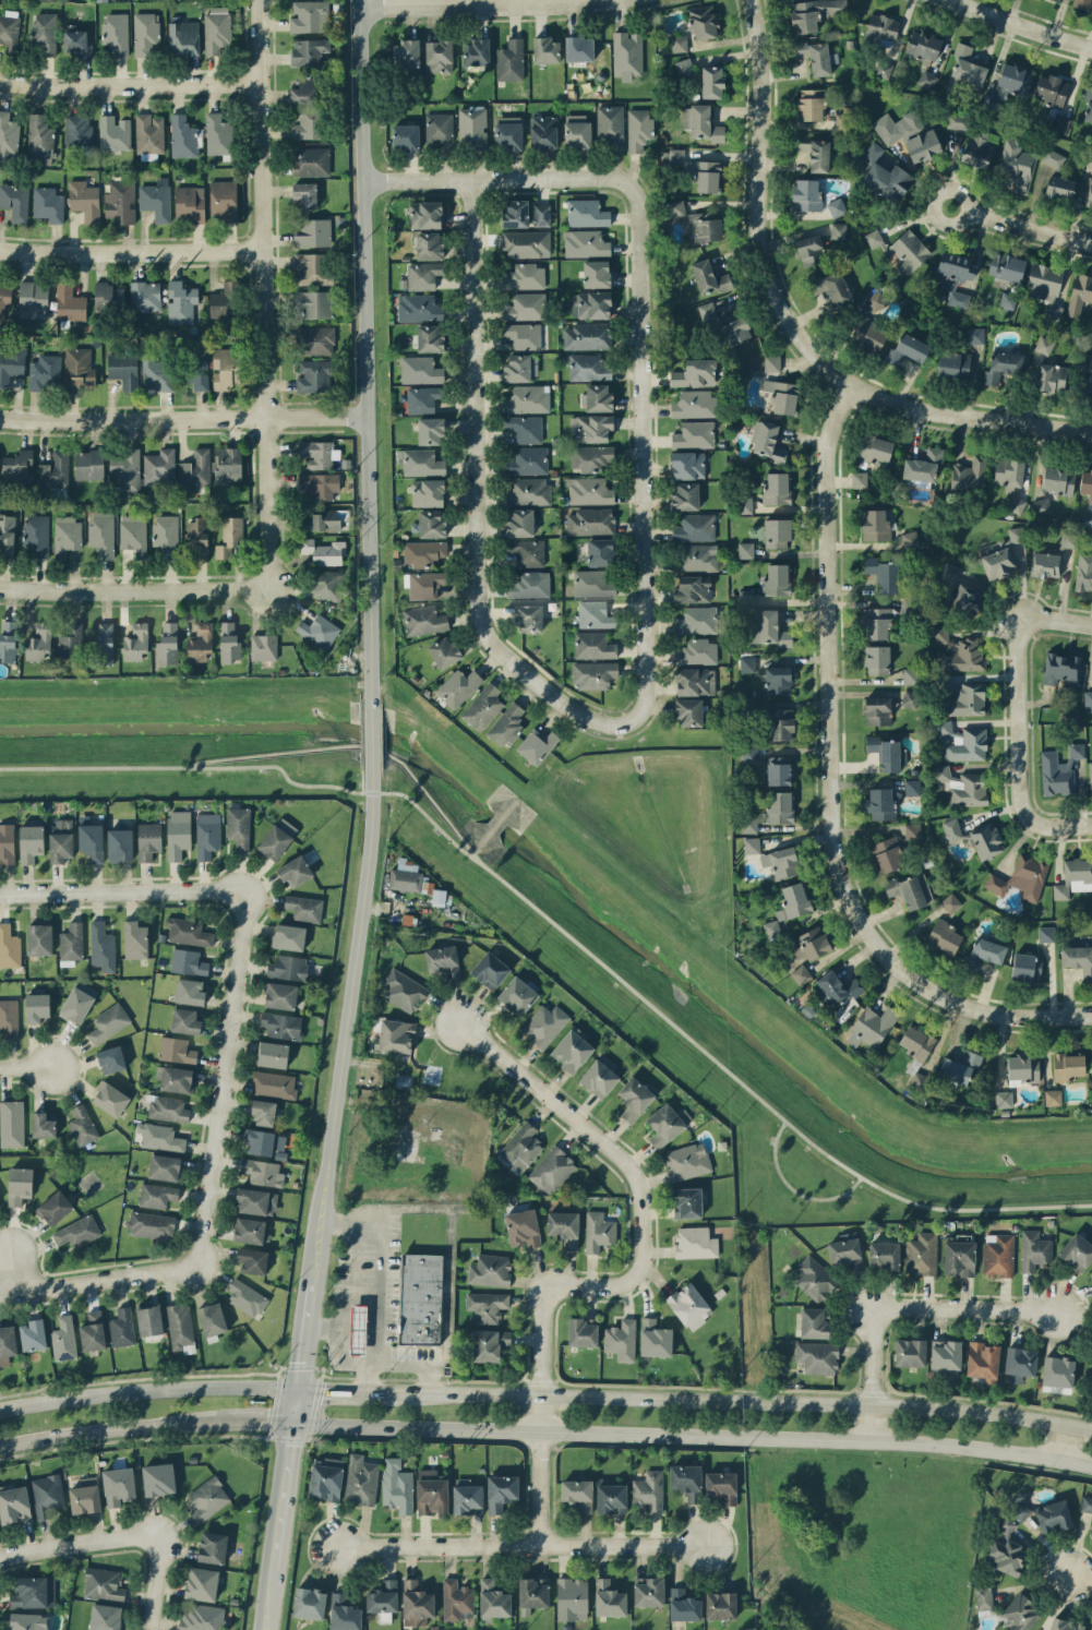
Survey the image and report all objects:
building: (1059, 0)
road: (432, 1)
building: (1081, 3)
building: (814, 13)
building: (310, 15)
building: (703, 22)
road: (1027, 22)
building: (883, 27)
building: (217, 28)
building: (9, 29)
building: (44, 33)
building: (116, 33)
building: (146, 34)
building: (183, 37)
building: (75, 40)
building: (679, 43)
building: (923, 45)
building: (579, 48)
building: (309, 50)
building: (547, 50)
building: (477, 51)
building: (406, 52)
building: (627, 55)
building: (439, 56)
building: (814, 56)
building: (509, 60)
building: (684, 68)
building: (883, 69)
building: (964, 69)
building: (1015, 77)
building: (926, 80)
building: (712, 81)
road: (129, 84)
building: (303, 89)
building: (1052, 89)
building: (991, 100)
building: (811, 104)
building: (1088, 105)
building: (958, 120)
building: (700, 122)
building: (1059, 122)
building: (307, 123)
building: (610, 125)
building: (439, 127)
building: (471, 127)
building: (638, 129)
building: (576, 130)
building: (543, 131)
building: (113, 132)
building: (507, 132)
building: (8, 133)
building: (79, 133)
building: (149, 134)
building: (218, 134)
building: (909, 134)
building: (182, 136)
building: (405, 136)
building: (39, 139)
building: (979, 148)
building: (816, 154)
building: (1053, 157)
building: (1090, 158)
building: (311, 160)
building: (1017, 164)
building: (694, 169)
building: (885, 176)
road: (493, 179)
building: (1059, 187)
building: (1088, 193)
building: (305, 194)
building: (806, 194)
road: (962, 196)
building: (156, 199)
building: (224, 199)
building: (84, 200)
building: (15, 201)
building: (120, 201)
building: (48, 203)
building: (190, 203)
building: (836, 206)
building: (674, 208)
building: (515, 213)
building: (587, 213)
building: (425, 214)
building: (541, 214)
building: (704, 225)
road: (1029, 225)
building: (838, 230)
building: (314, 232)
building: (525, 243)
building: (586, 243)
building: (429, 244)
road: (131, 249)
building: (811, 249)
building: (909, 251)
building: (1006, 266)
building: (312, 267)
building: (597, 273)
building: (423, 275)
building: (525, 276)
building: (956, 276)
building: (709, 277)
building: (831, 286)
building: (1045, 286)
road: (263, 293)
building: (1080, 293)
building: (108, 295)
building: (145, 296)
building: (33, 299)
building: (876, 299)
building: (1008, 299)
building: (4, 300)
building: (226, 300)
building: (69, 302)
building: (180, 302)
building: (315, 303)
building: (591, 304)
building: (524, 305)
building: (419, 307)
building: (708, 310)
road: (793, 323)
building: (735, 327)
building: (524, 335)
building: (587, 335)
building: (868, 335)
building: (975, 335)
building: (429, 338)
building: (315, 340)
building: (1044, 344)
road: (365, 345)
building: (907, 349)
building: (772, 362)
building: (11, 363)
building: (953, 365)
building: (1001, 365)
building: (193, 367)
building: (226, 367)
building: (521, 367)
building: (588, 367)
building: (79, 369)
building: (123, 369)
building: (420, 370)
building: (45, 372)
building: (157, 372)
building: (694, 373)
building: (314, 375)
building: (1087, 375)
building: (1051, 377)
building: (782, 395)
building: (598, 397)
building: (423, 398)
building: (527, 398)
building: (694, 404)
road: (182, 417)
building: (525, 428)
building: (590, 428)
building: (430, 430)
building: (694, 434)
building: (768, 442)
building: (875, 448)
road: (636, 450)
building: (316, 453)
building: (591, 457)
building: (528, 460)
building: (420, 462)
building: (88, 464)
building: (227, 465)
building: (688, 465)
building: (923, 465)
building: (158, 466)
building: (19, 467)
building: (125, 468)
building: (195, 468)
building: (55, 469)
building: (1008, 471)
building: (969, 475)
building: (859, 478)
building: (1057, 479)
building: (1085, 482)
building: (320, 484)
building: (777, 488)
building: (589, 490)
building: (529, 491)
building: (428, 492)
building: (685, 495)
road: (471, 502)
building: (1016, 503)
building: (1043, 505)
building: (323, 519)
building: (520, 522)
building: (590, 522)
building: (431, 523)
building: (875, 524)
building: (695, 527)
building: (101, 532)
building: (777, 532)
building: (133, 534)
building: (1017, 534)
building: (7, 535)
building: (67, 535)
building: (166, 535)
building: (229, 535)
building: (36, 536)
building: (199, 537)
building: (910, 539)
building: (1067, 539)
building: (745, 549)
building: (323, 551)
building: (527, 551)
building: (600, 551)
building: (423, 552)
building: (697, 556)
building: (998, 563)
building: (1046, 563)
building: (950, 572)
building: (1083, 572)
building: (883, 574)
building: (777, 579)
building: (327, 584)
building: (425, 584)
building: (592, 584)
building: (529, 585)
building: (693, 588)
road: (133, 589)
building: (746, 597)
building: (967, 598)
building: (595, 614)
building: (529, 618)
building: (423, 620)
building: (696, 620)
road: (1083, 621)
building: (876, 623)
building: (768, 628)
building: (319, 630)
building: (940, 634)
building: (8, 639)
building: (229, 640)
building: (39, 642)
building: (70, 642)
building: (135, 642)
building: (200, 642)
building: (104, 643)
building: (168, 644)
building: (593, 645)
building: (263, 646)
building: (444, 651)
building: (697, 651)
building: (962, 655)
building: (877, 659)
building: (747, 663)
building: (1061, 668)
building: (593, 674)
building: (910, 675)
building: (778, 680)
building: (695, 681)
building: (458, 686)
building: (910, 698)
building: (965, 698)
building: (1088, 699)
building: (482, 707)
road: (838, 707)
building: (877, 710)
building: (689, 711)
road: (1023, 719)
building: (779, 723)
building: (506, 724)
road: (372, 728)
building: (963, 741)
road: (360, 744)
building: (537, 744)
building: (886, 752)
building: (748, 753)
building: (1059, 769)
building: (780, 770)
building: (1090, 774)
building: (912, 787)
building: (883, 803)
building: (780, 806)
building: (749, 824)
building: (239, 827)
building: (952, 829)
building: (912, 831)
building: (178, 832)
building: (207, 834)
building: (277, 838)
building: (61, 839)
building: (92, 840)
building: (148, 840)
building: (985, 840)
building: (31, 842)
building: (7, 843)
building: (120, 844)
building: (752, 844)
building: (887, 854)
building: (781, 861)
building: (295, 870)
building: (1021, 877)
building: (1073, 877)
building: (413, 882)
river: (568, 885)
road: (120, 890)
building: (910, 890)
building: (793, 900)
building: (950, 902)
building: (304, 908)
building: (771, 928)
road: (563, 930)
building: (188, 931)
building: (1046, 933)
building: (288, 936)
building: (944, 937)
building: (39, 938)
building: (135, 939)
building: (72, 940)
building: (812, 943)
building: (9, 947)
building: (103, 947)
building: (984, 951)
building: (1078, 959)
building: (443, 960)
building: (188, 961)
building: (1027, 966)
building: (288, 967)
building: (490, 970)
building: (801, 974)
building: (836, 988)
building: (404, 990)
building: (190, 992)
building: (280, 995)
building: (517, 995)
building: (77, 1002)
building: (37, 1007)
road: (1018, 1012)
building: (9, 1017)
building: (185, 1020)
building: (109, 1021)
building: (281, 1024)
road: (347, 1024)
building: (544, 1024)
building: (871, 1026)
building: (396, 1035)
building: (916, 1043)
building: (177, 1050)
building: (572, 1050)
building: (273, 1054)
building: (111, 1058)
building: (1091, 1064)
building: (1068, 1066)
road: (25, 1067)
building: (959, 1067)
building: (1022, 1068)
building: (600, 1076)
road: (217, 1077)
building: (175, 1078)
building: (1053, 1096)
building: (634, 1098)
building: (111, 1099)
building: (1004, 1099)
building: (168, 1108)
building: (262, 1111)
building: (11, 1123)
building: (667, 1124)
building: (43, 1125)
building: (82, 1125)
building: (159, 1137)
building: (264, 1141)
building: (521, 1146)
building: (687, 1161)
building: (165, 1166)
building: (552, 1170)
building: (263, 1172)
building: (19, 1185)
road: (793, 1188)
building: (157, 1195)
building: (256, 1201)
building: (687, 1202)
building: (55, 1207)
building: (151, 1224)
building: (523, 1227)
building: (564, 1227)
building: (250, 1230)
building: (77, 1231)
building: (598, 1231)
building: (695, 1242)
building: (1034, 1249)
building: (1077, 1251)
building: (847, 1253)
building: (922, 1254)
building: (884, 1255)
building: (959, 1257)
building: (253, 1260)
building: (490, 1270)
road: (9, 1271)
building: (814, 1278)
road: (96, 1280)
road: (620, 1280)
building: (247, 1297)
building: (419, 1298)
road: (377, 1305)
building: (487, 1305)
building: (689, 1305)
road: (896, 1307)
building: (149, 1319)
building: (212, 1319)
building: (814, 1322)
building: (122, 1327)
building: (180, 1327)
building: (358, 1329)
gas station: (358, 1329)
building: (93, 1331)
building: (581, 1332)
building: (33, 1334)
road: (303, 1335)
building: (63, 1338)
building: (655, 1338)
building: (621, 1340)
building: (7, 1343)
building: (488, 1344)
road: (337, 1345)
building: (910, 1352)
building: (817, 1356)
building: (946, 1356)
building: (1091, 1359)
building: (983, 1361)
building: (1020, 1363)
building: (1057, 1370)
road: (368, 1376)
traffic signals: (297, 1387)
road: (147, 1388)
road: (343, 1388)
road: (741, 1398)
road: (295, 1405)
road: (257, 1422)
traffic signals: (292, 1424)
road: (110, 1427)
road: (693, 1436)
road: (1059, 1442)
building: (158, 1478)
building: (325, 1478)
building: (361, 1479)
building: (687, 1481)
building: (118, 1485)
building: (397, 1485)
building: (721, 1486)
building: (649, 1490)
building: (431, 1491)
building: (501, 1491)
building: (578, 1494)
building: (47, 1495)
road: (283, 1496)
building: (467, 1497)
building: (84, 1498)
building: (207, 1498)
building: (611, 1498)
building: (1087, 1503)
building: (14, 1505)
building: (1053, 1515)
building: (1091, 1533)
road: (79, 1541)
building: (1008, 1541)
road: (516, 1546)
building: (213, 1547)
road: (1080, 1580)
road: (151, 1581)
building: (104, 1583)
building: (202, 1583)
building: (34, 1591)
building: (648, 1591)
building: (533, 1592)
building: (983, 1597)
building: (572, 1598)
building: (609, 1598)
road: (268, 1599)
building: (383, 1599)
building: (456, 1599)
building: (493, 1599)
building: (309, 1603)
building: (416, 1603)
building: (684, 1605)
building: (720, 1605)
building: (1021, 1611)
building: (344, 1614)
building: (105, 1617)
building: (202, 1617)
building: (28, 1621)

